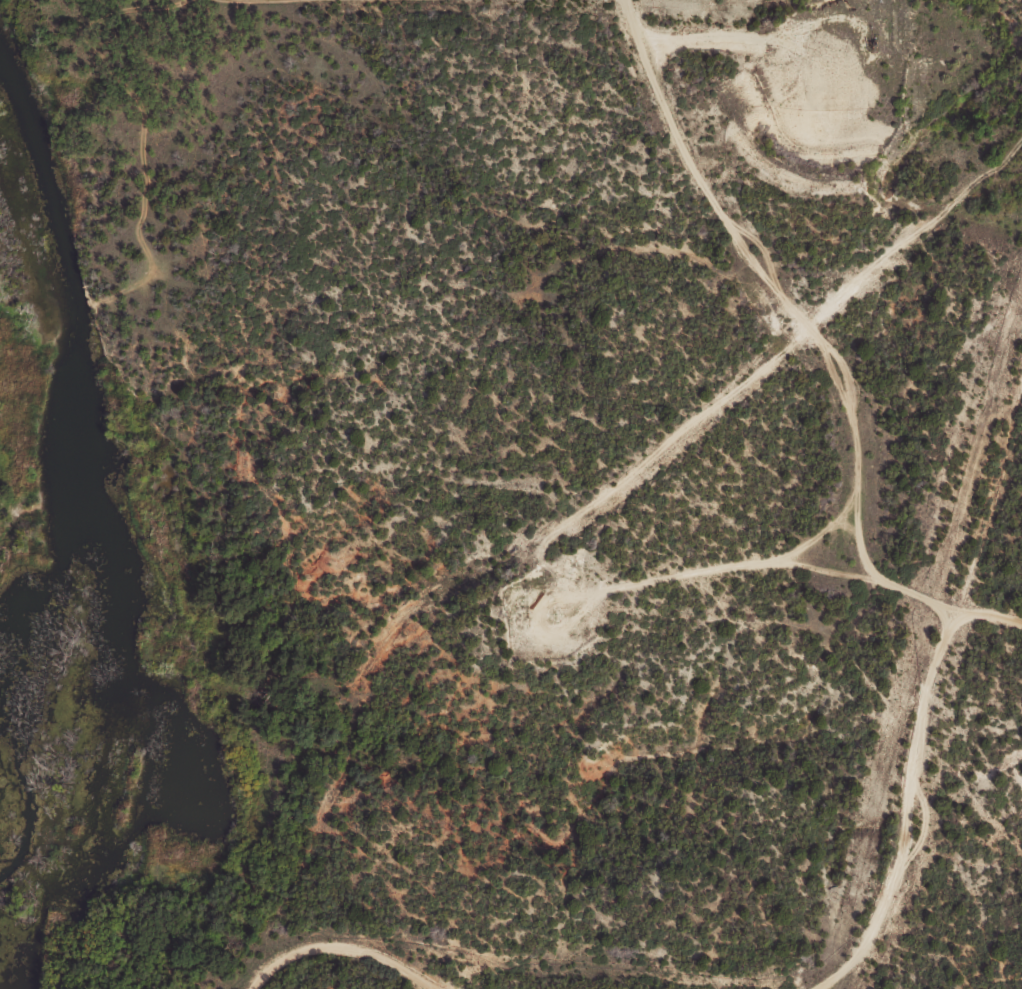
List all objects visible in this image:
road: (804, 344)
road: (936, 825)
road: (368, 966)

